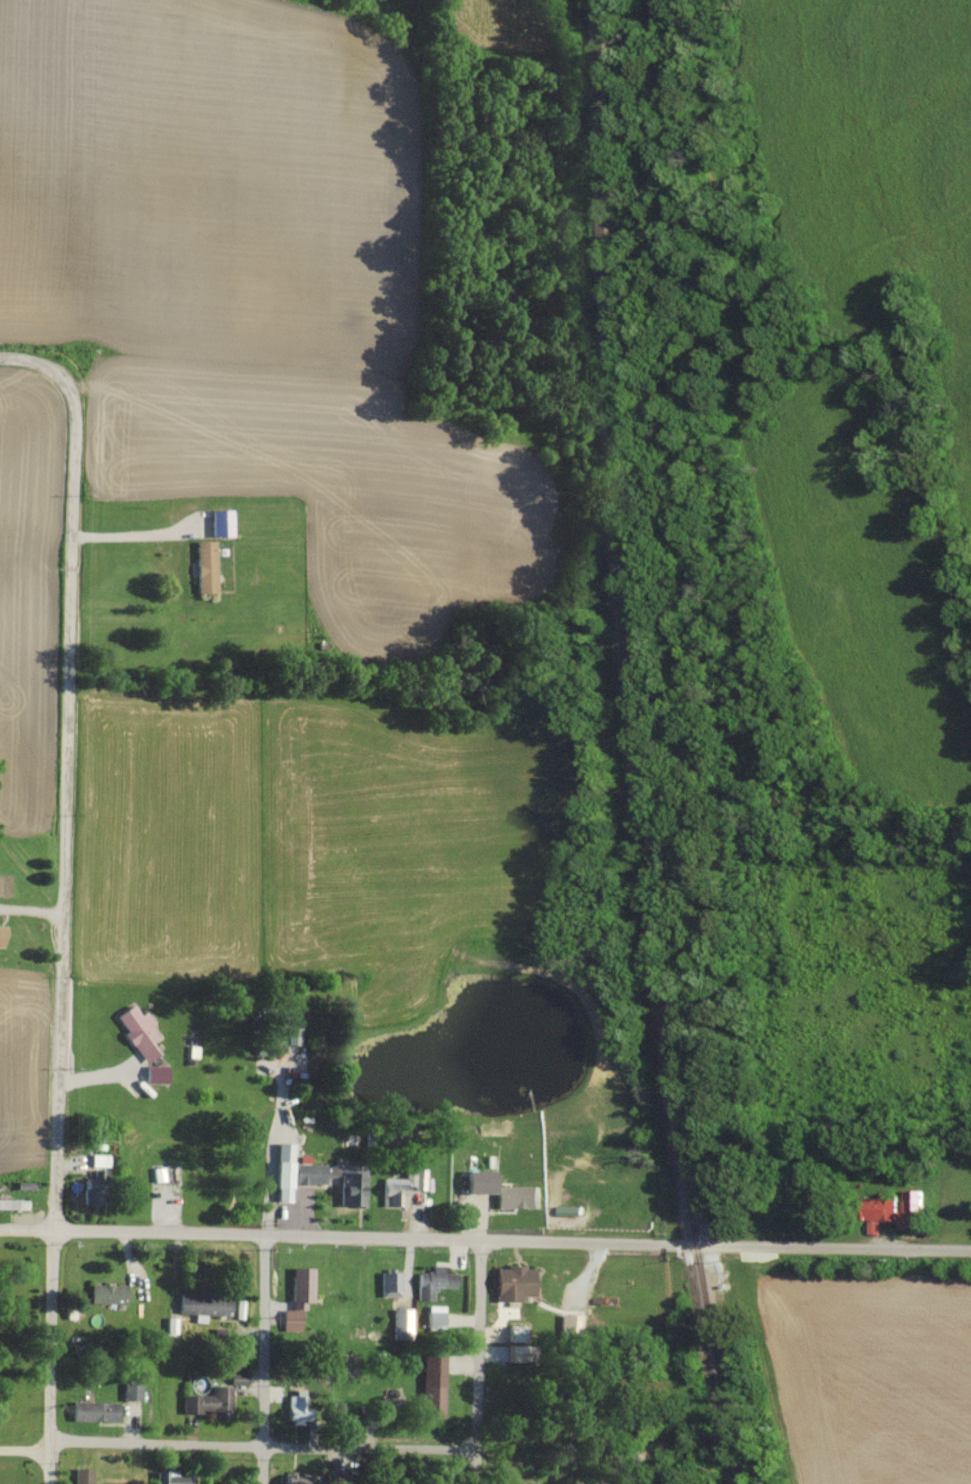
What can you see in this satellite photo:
building: (218, 522)
road: (138, 535)
building: (203, 566)
railway: (635, 745)
road: (64, 894)
building: (0, 929)
building: (135, 1031)
building: (290, 1035)
building: (153, 1073)
building: (285, 1171)
building: (93, 1176)
building: (475, 1181)
building: (347, 1183)
building: (392, 1191)
building: (514, 1196)
building: (11, 1204)
building: (566, 1208)
building: (908, 1210)
building: (878, 1211)
road: (309, 1237)
road: (795, 1244)
building: (430, 1281)
building: (389, 1283)
building: (511, 1284)
building: (104, 1294)
building: (297, 1300)
building: (202, 1305)
building: (434, 1316)
building: (400, 1323)
building: (568, 1324)
building: (514, 1332)
building: (512, 1353)
road: (264, 1360)
road: (477, 1362)
building: (430, 1384)
building: (129, 1390)
building: (207, 1400)
building: (294, 1404)
building: (91, 1410)
road: (237, 1446)
building: (81, 1475)
building: (167, 1477)

